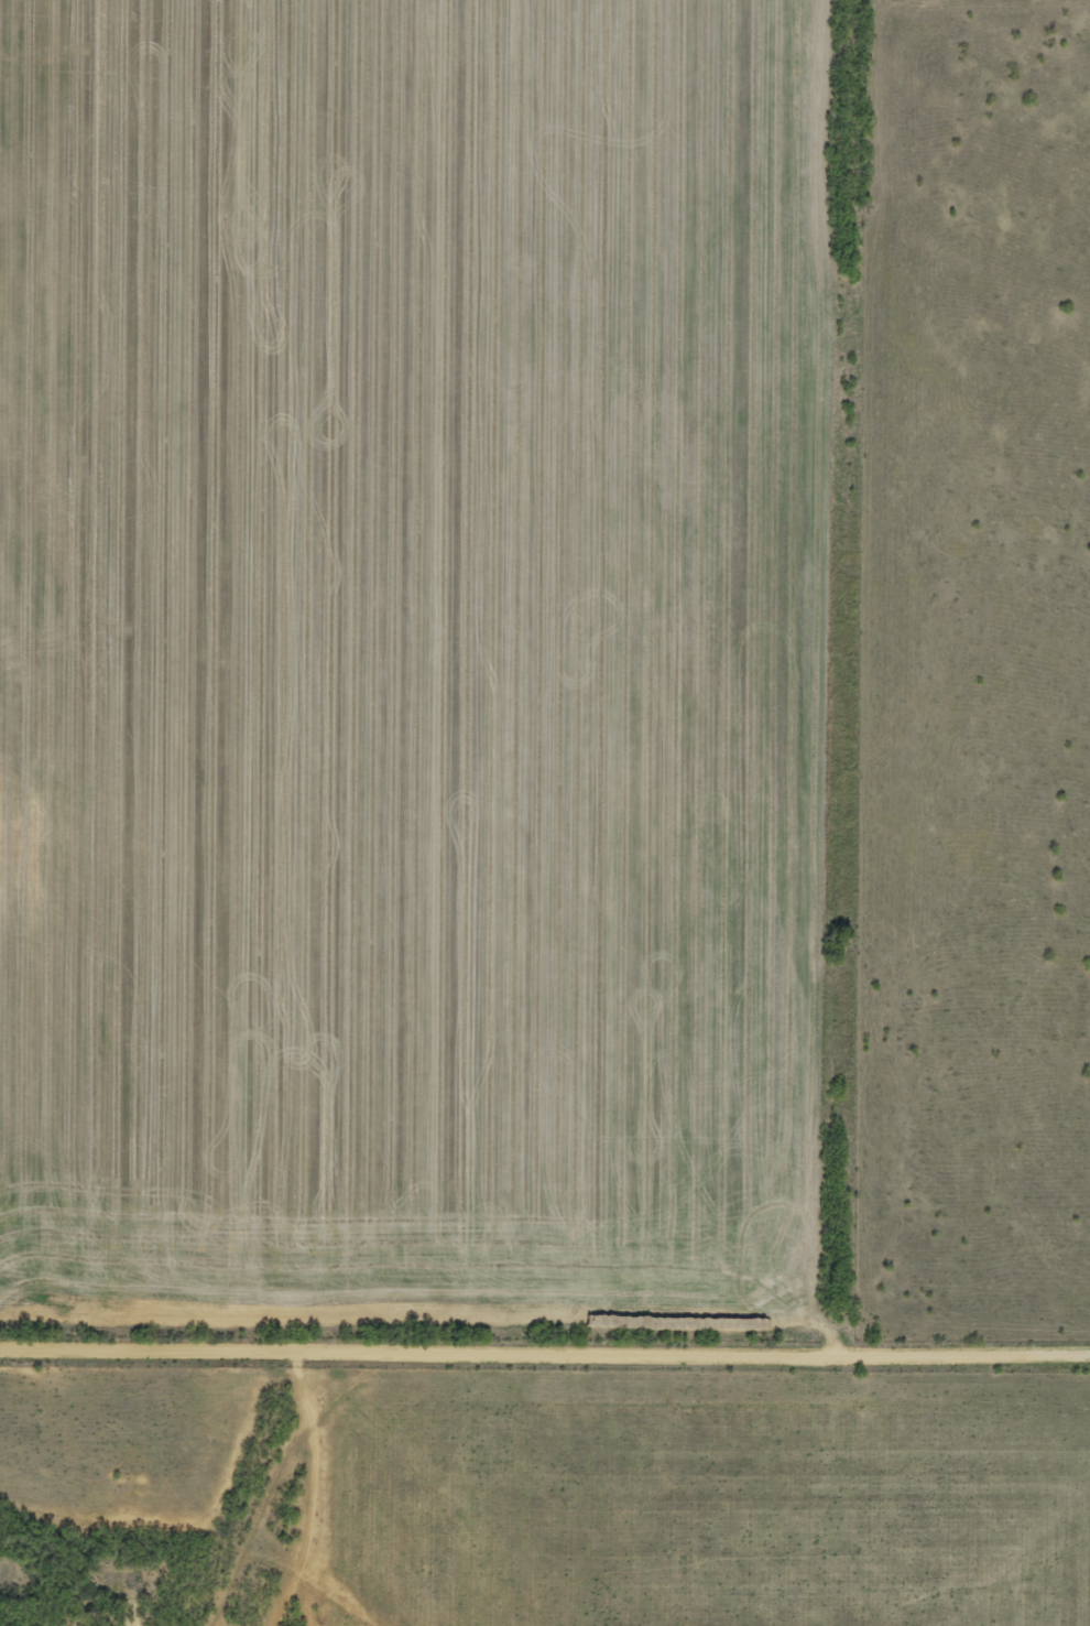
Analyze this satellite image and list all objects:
road: (545, 1338)

